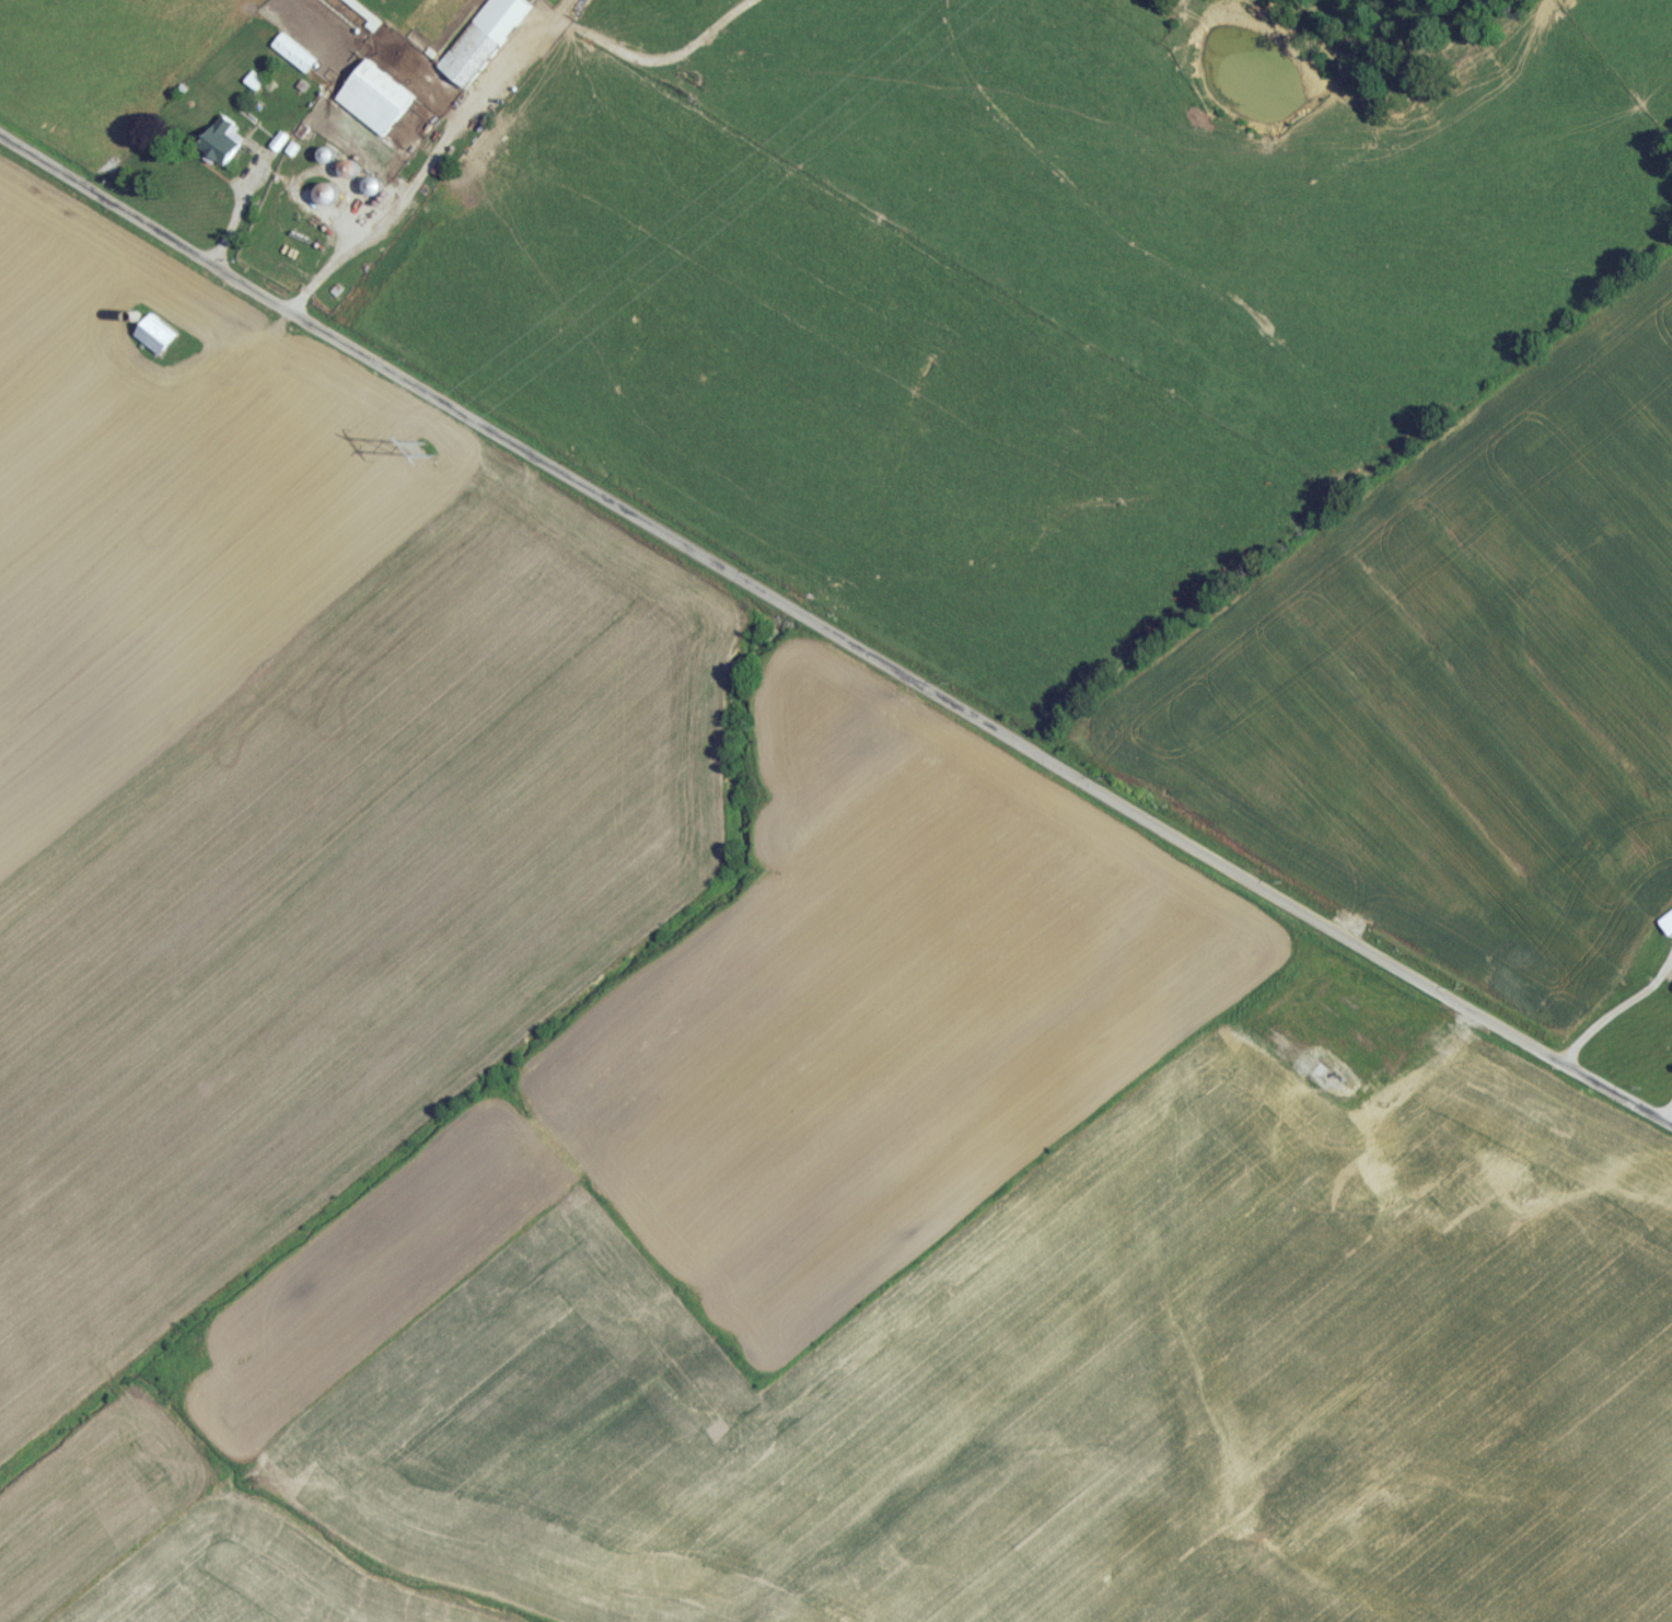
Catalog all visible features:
building: (486, 44)
building: (295, 59)
road: (456, 78)
building: (379, 104)
building: (224, 149)
building: (158, 341)
power tower: (428, 461)
road: (835, 636)
building: (1668, 929)
road: (1670, 1119)

